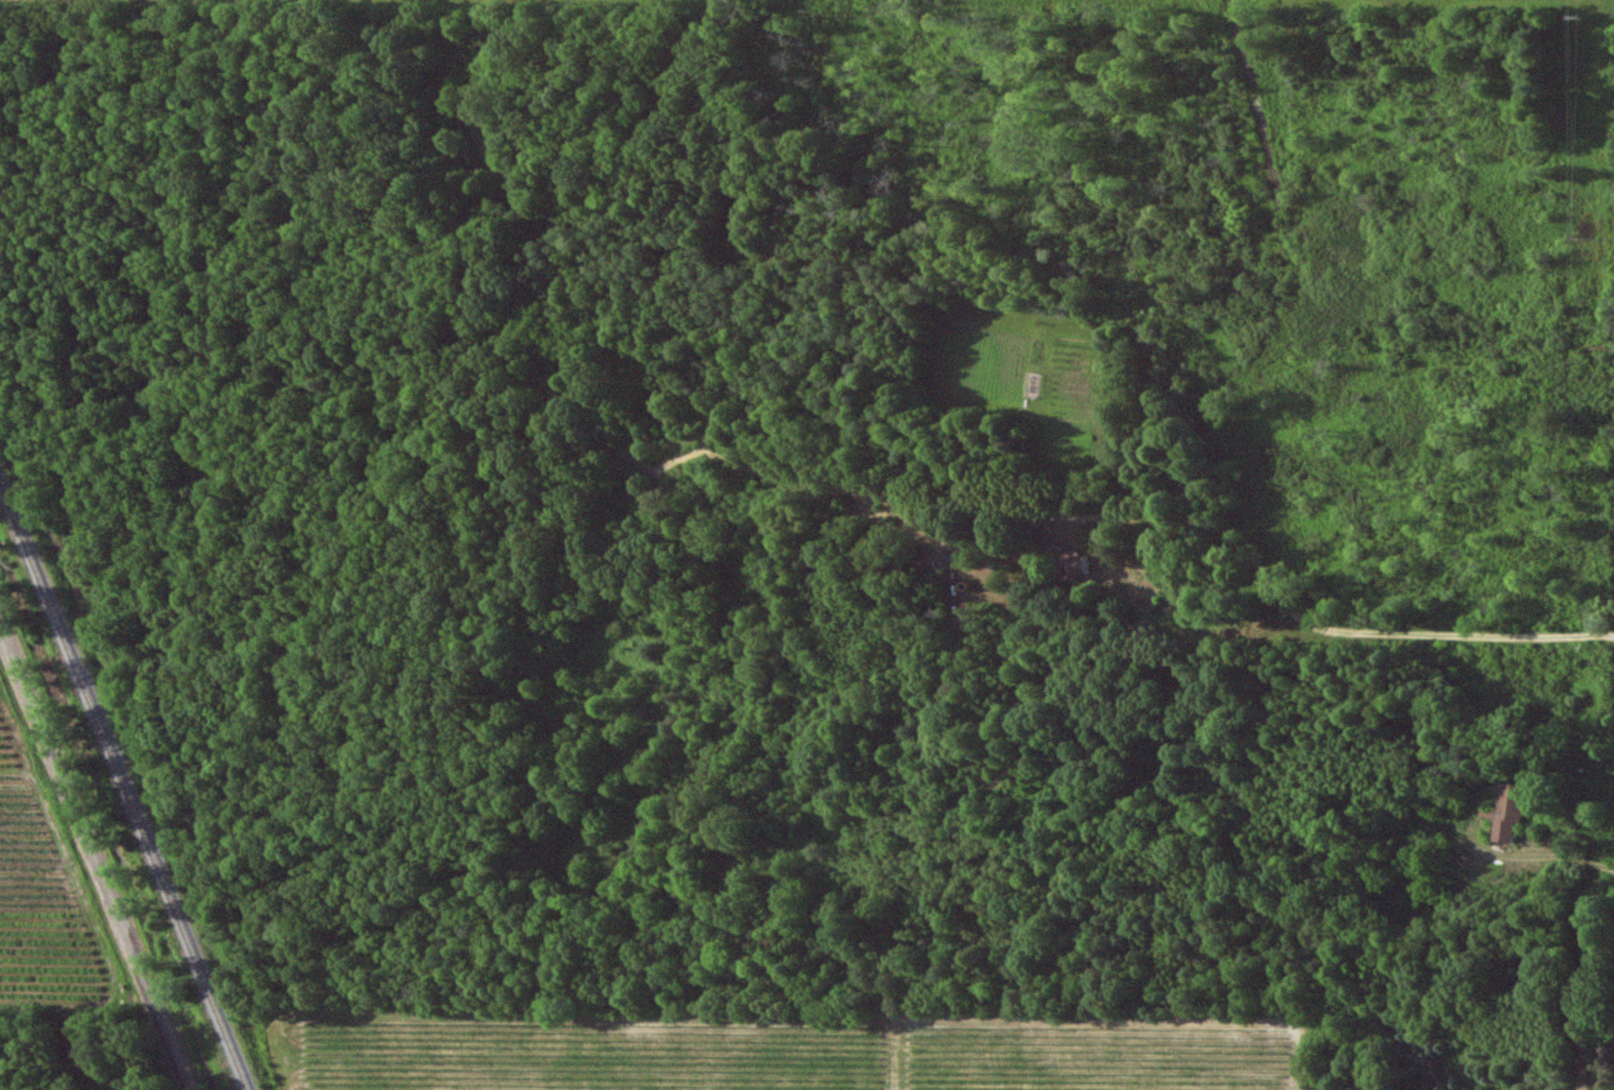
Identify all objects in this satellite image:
building: (1076, 564)
road: (1337, 626)
railway: (124, 785)
building: (1507, 810)
road: (93, 859)

